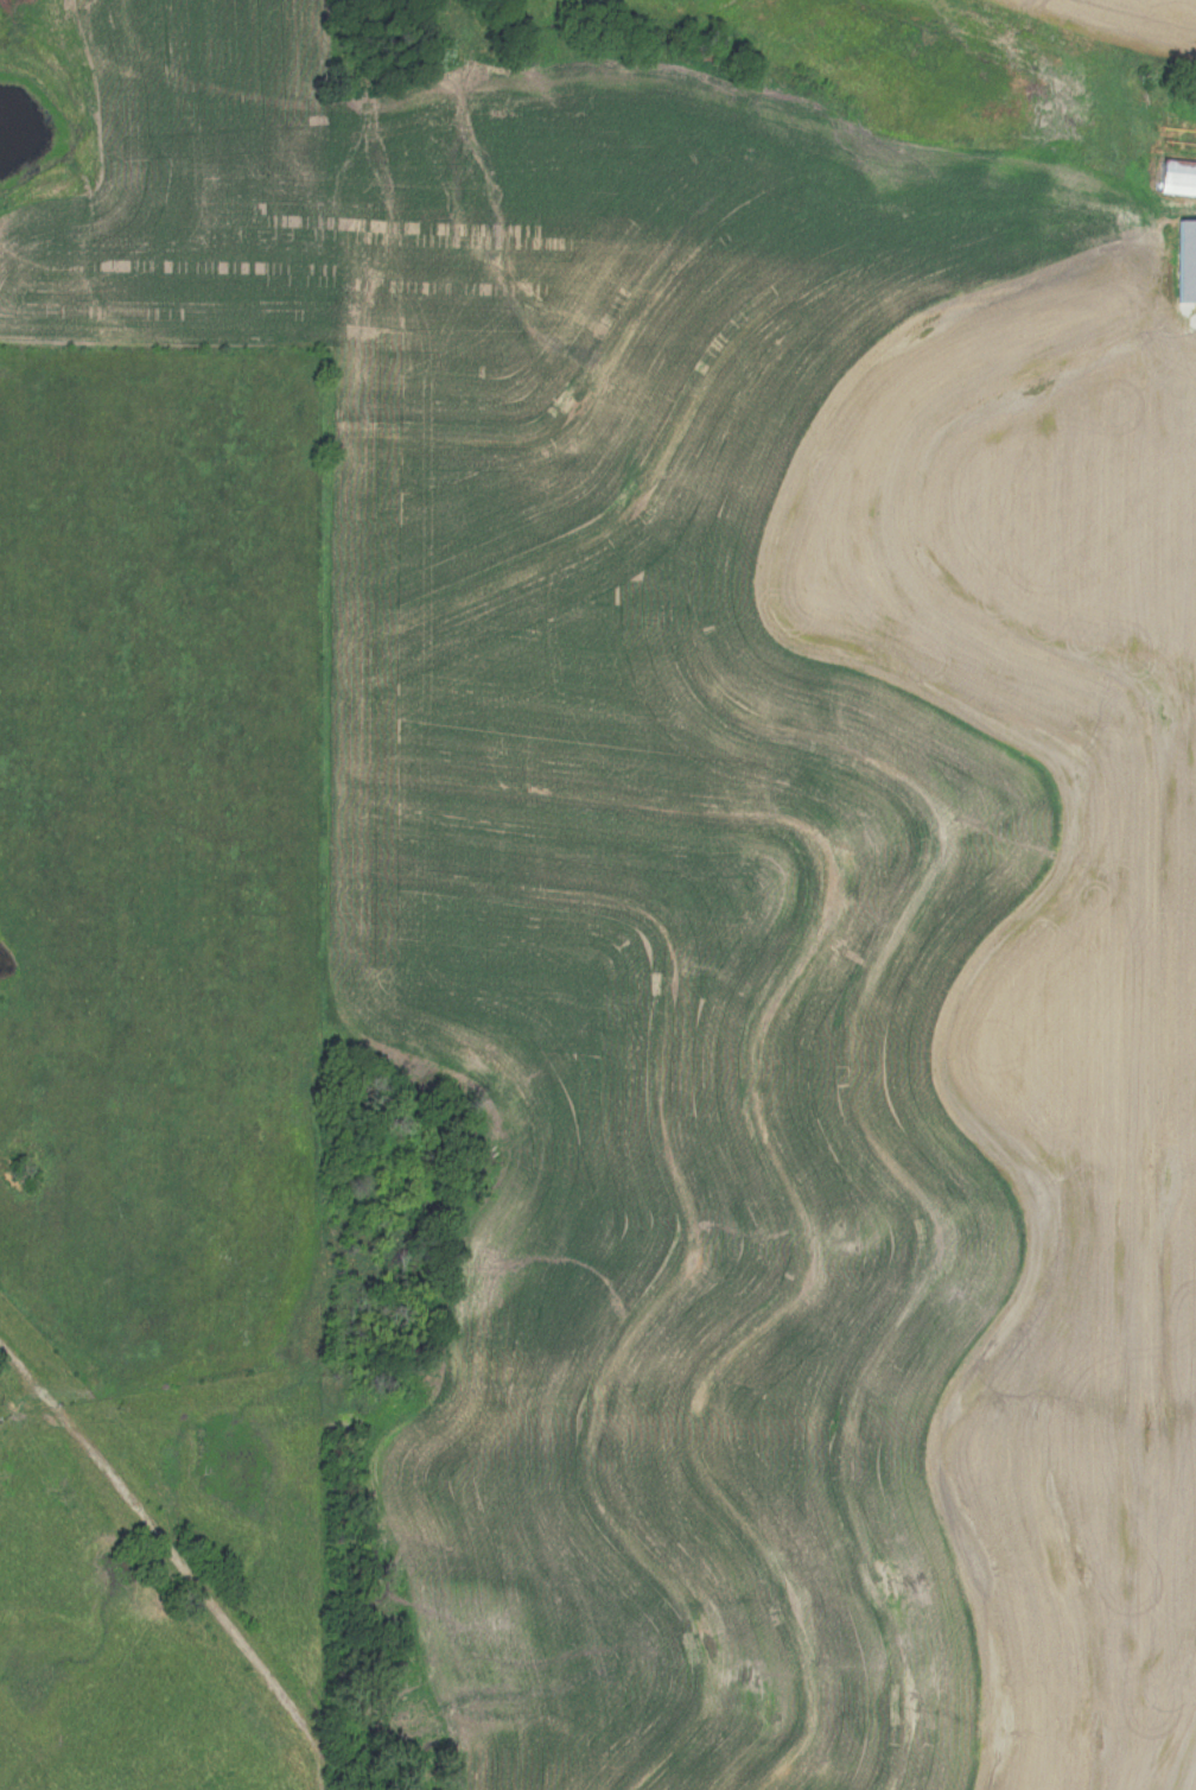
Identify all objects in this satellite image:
crop: (1122, 17)
building: (1179, 178)
crop: (777, 1010)

